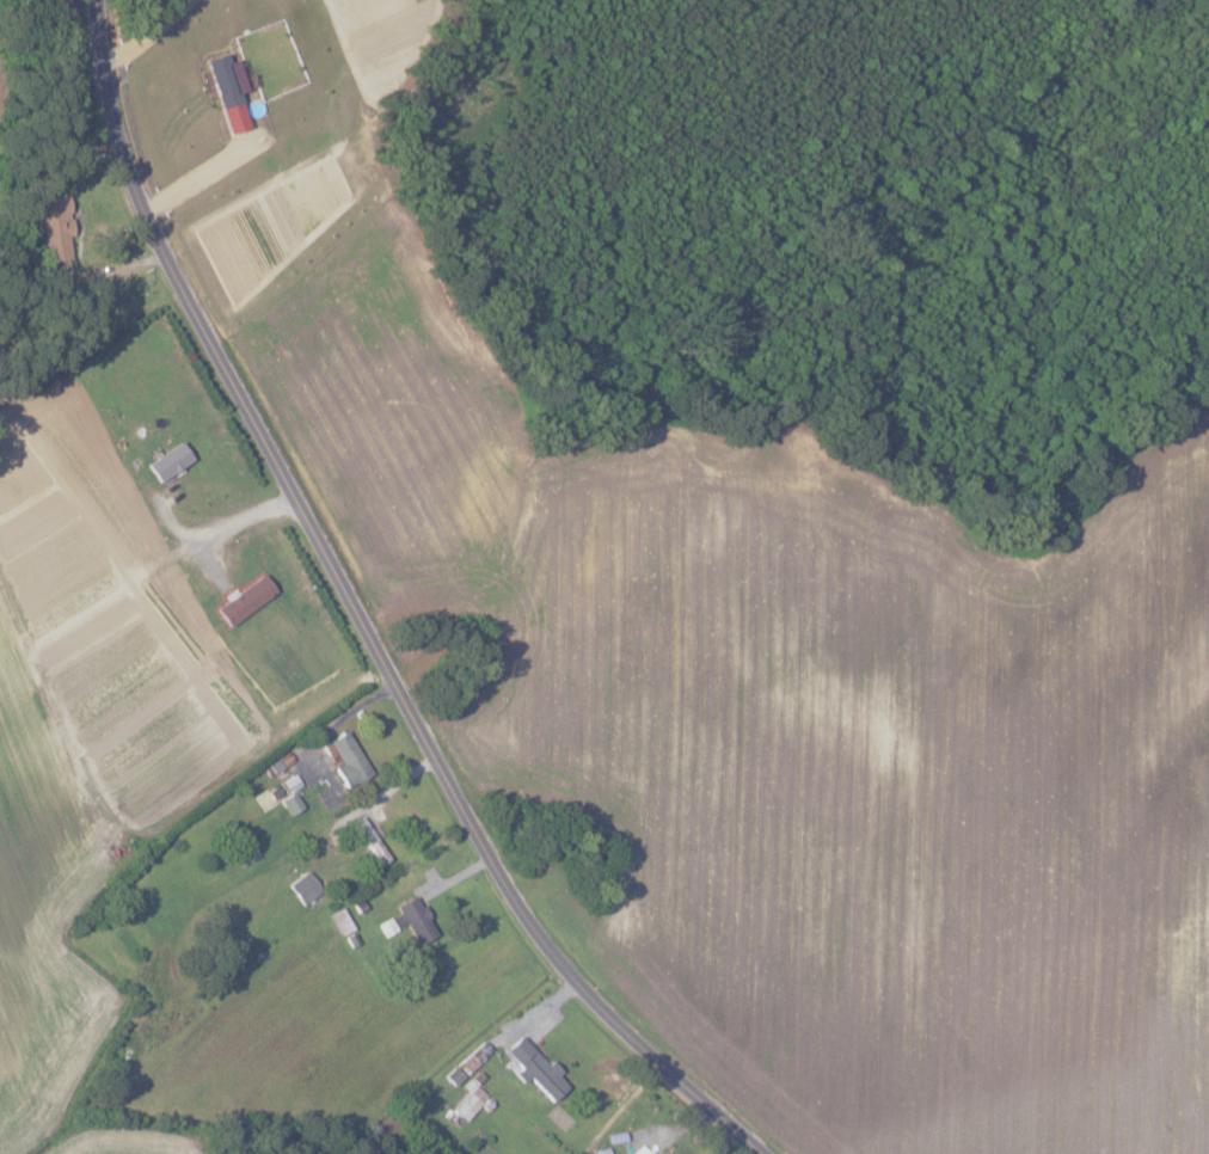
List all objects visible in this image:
road: (155, 33)
building: (229, 92)
road: (203, 170)
building: (55, 228)
building: (170, 462)
road: (247, 520)
building: (246, 599)
road: (369, 619)
building: (346, 757)
building: (291, 803)
building: (306, 886)
building: (416, 920)
building: (535, 1067)
building: (455, 1075)
building: (470, 1104)
building: (642, 1150)

